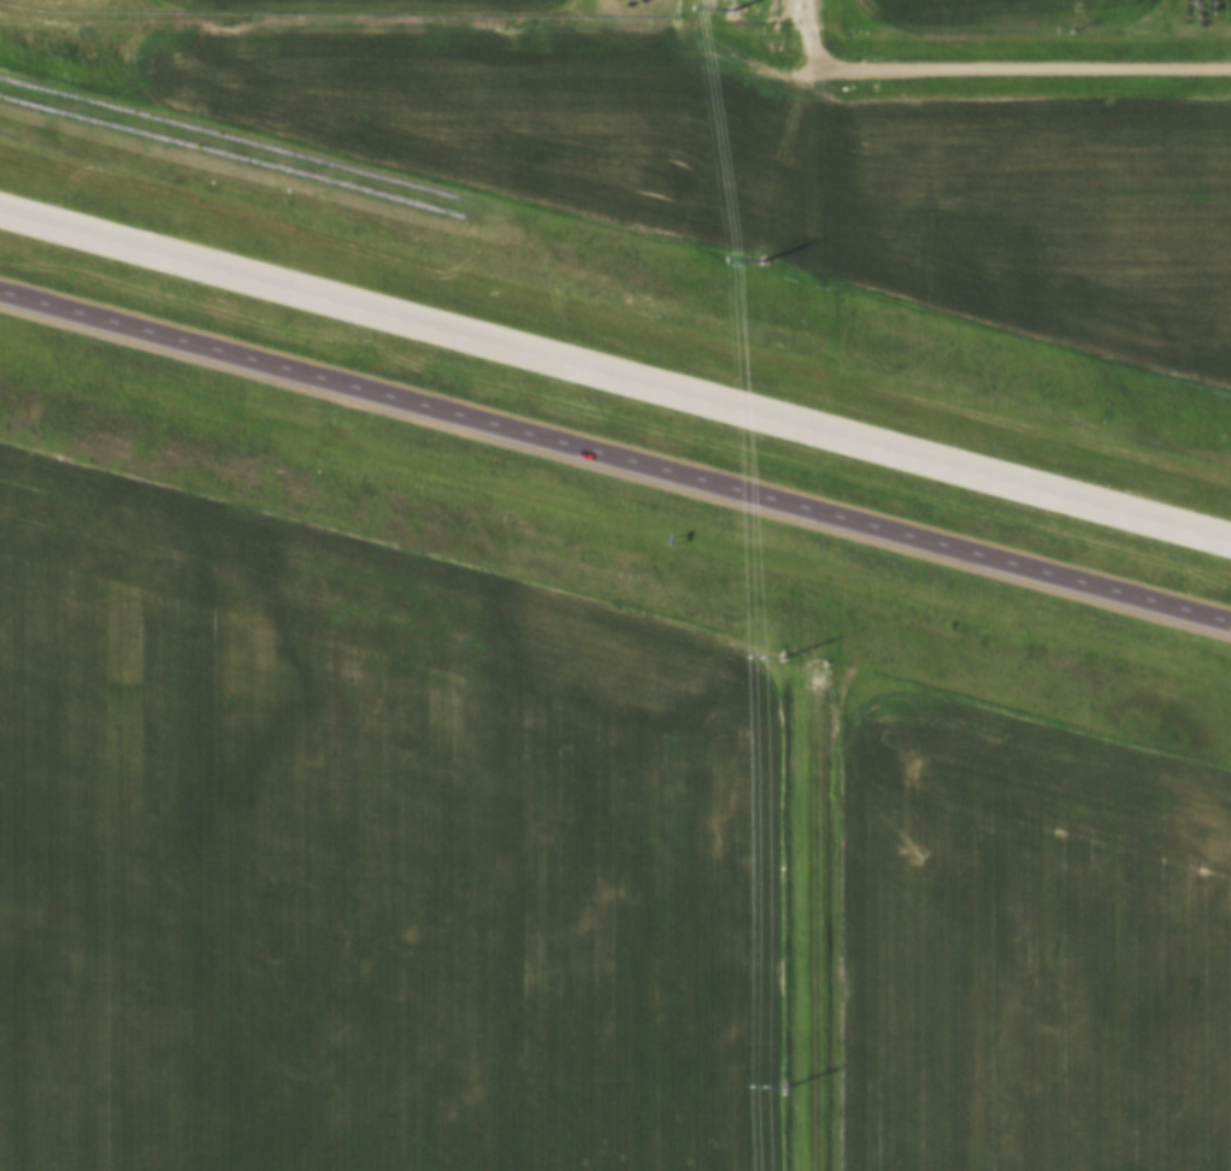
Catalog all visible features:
road: (495, 18)
road: (803, 31)
road: (1024, 57)
road: (614, 377)
road: (615, 460)
road: (825, 926)

